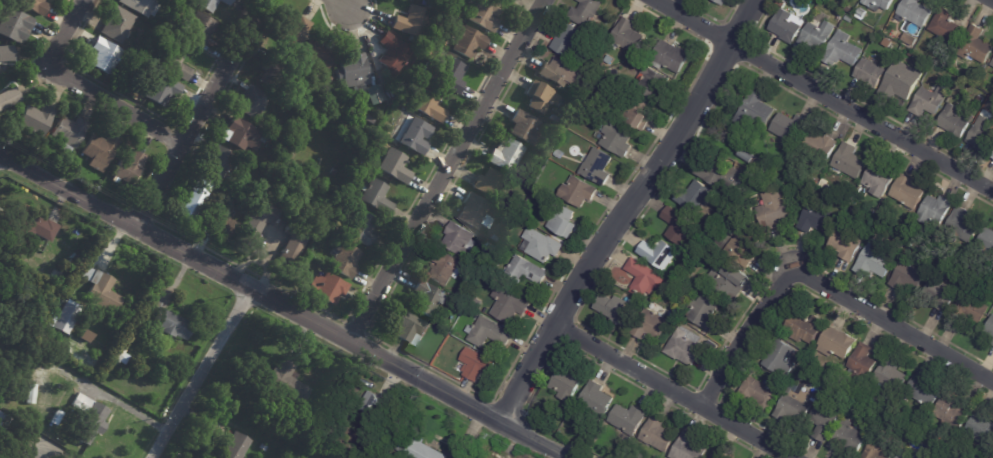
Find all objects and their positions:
building: (508, 0)
building: (510, 0)
building: (855, 0)
road: (991, 0)
building: (721, 2)
building: (210, 4)
road: (343, 4)
building: (782, 4)
building: (880, 4)
building: (34, 5)
building: (432, 5)
building: (142, 6)
building: (587, 12)
building: (915, 12)
building: (487, 14)
building: (861, 15)
building: (849, 19)
road: (695, 21)
building: (412, 22)
building: (14, 24)
building: (117, 24)
building: (788, 26)
building: (947, 26)
building: (169, 28)
building: (197, 29)
building: (292, 30)
building: (816, 36)
building: (627, 37)
building: (413, 40)
building: (569, 40)
building: (469, 41)
building: (887, 43)
building: (977, 45)
building: (844, 50)
building: (140, 52)
building: (646, 52)
building: (394, 53)
building: (6, 54)
building: (105, 55)
building: (315, 56)
building: (670, 57)
building: (175, 60)
building: (992, 65)
building: (353, 71)
building: (561, 73)
building: (871, 73)
building: (274, 74)
building: (447, 75)
building: (902, 81)
building: (652, 83)
road: (83, 84)
building: (162, 89)
building: (374, 93)
building: (8, 98)
building: (544, 98)
building: (981, 100)
building: (929, 101)
building: (253, 102)
building: (430, 104)
building: (584, 108)
road: (199, 111)
building: (756, 111)
building: (638, 114)
building: (553, 118)
road: (863, 118)
building: (35, 120)
building: (956, 121)
building: (525, 127)
building: (790, 130)
building: (69, 132)
building: (983, 133)
building: (243, 135)
building: (416, 136)
building: (568, 136)
building: (616, 138)
building: (370, 148)
building: (820, 148)
building: (97, 152)
building: (547, 152)
building: (559, 154)
building: (507, 156)
building: (992, 156)
building: (746, 157)
building: (219, 162)
building: (850, 162)
building: (758, 163)
building: (395, 166)
building: (128, 167)
building: (598, 167)
road: (445, 170)
building: (720, 174)
building: (525, 178)
building: (879, 178)
building: (227, 179)
building: (492, 184)
building: (578, 191)
building: (908, 192)
building: (376, 196)
building: (697, 198)
building: (195, 199)
road: (626, 209)
building: (773, 210)
building: (935, 210)
building: (474, 211)
building: (818, 219)
building: (258, 221)
building: (562, 221)
building: (963, 225)
building: (222, 226)
building: (679, 227)
building: (31, 228)
building: (362, 229)
building: (987, 240)
building: (460, 241)
building: (293, 245)
building: (540, 245)
building: (846, 245)
building: (912, 245)
building: (489, 248)
building: (744, 249)
building: (659, 254)
building: (344, 259)
building: (875, 261)
building: (444, 268)
building: (524, 272)
building: (58, 274)
building: (909, 277)
building: (644, 278)
building: (727, 281)
road: (824, 286)
building: (327, 287)
building: (101, 290)
building: (464, 292)
building: (943, 294)
building: (427, 299)
building: (475, 303)
road: (284, 306)
building: (508, 306)
building: (617, 310)
building: (970, 311)
building: (703, 313)
building: (68, 315)
building: (167, 322)
building: (651, 326)
building: (411, 328)
building: (805, 329)
building: (990, 329)
building: (488, 334)
building: (838, 344)
building: (683, 349)
building: (120, 357)
building: (782, 359)
building: (138, 364)
building: (865, 364)
building: (477, 365)
building: (132, 373)
road: (202, 374)
building: (892, 377)
building: (818, 378)
building: (286, 382)
building: (568, 382)
road: (678, 388)
building: (928, 392)
building: (30, 394)
building: (760, 394)
building: (872, 399)
road: (118, 401)
building: (597, 401)
building: (848, 403)
building: (372, 404)
building: (795, 408)
building: (954, 412)
building: (56, 418)
building: (827, 418)
building: (87, 419)
building: (629, 420)
building: (3, 422)
building: (301, 424)
building: (982, 428)
building: (658, 435)
building: (851, 438)
building: (235, 447)
building: (262, 448)
building: (689, 448)
road: (56, 449)
building: (421, 450)
building: (881, 450)
building: (719, 455)
building: (900, 456)
building: (906, 456)

